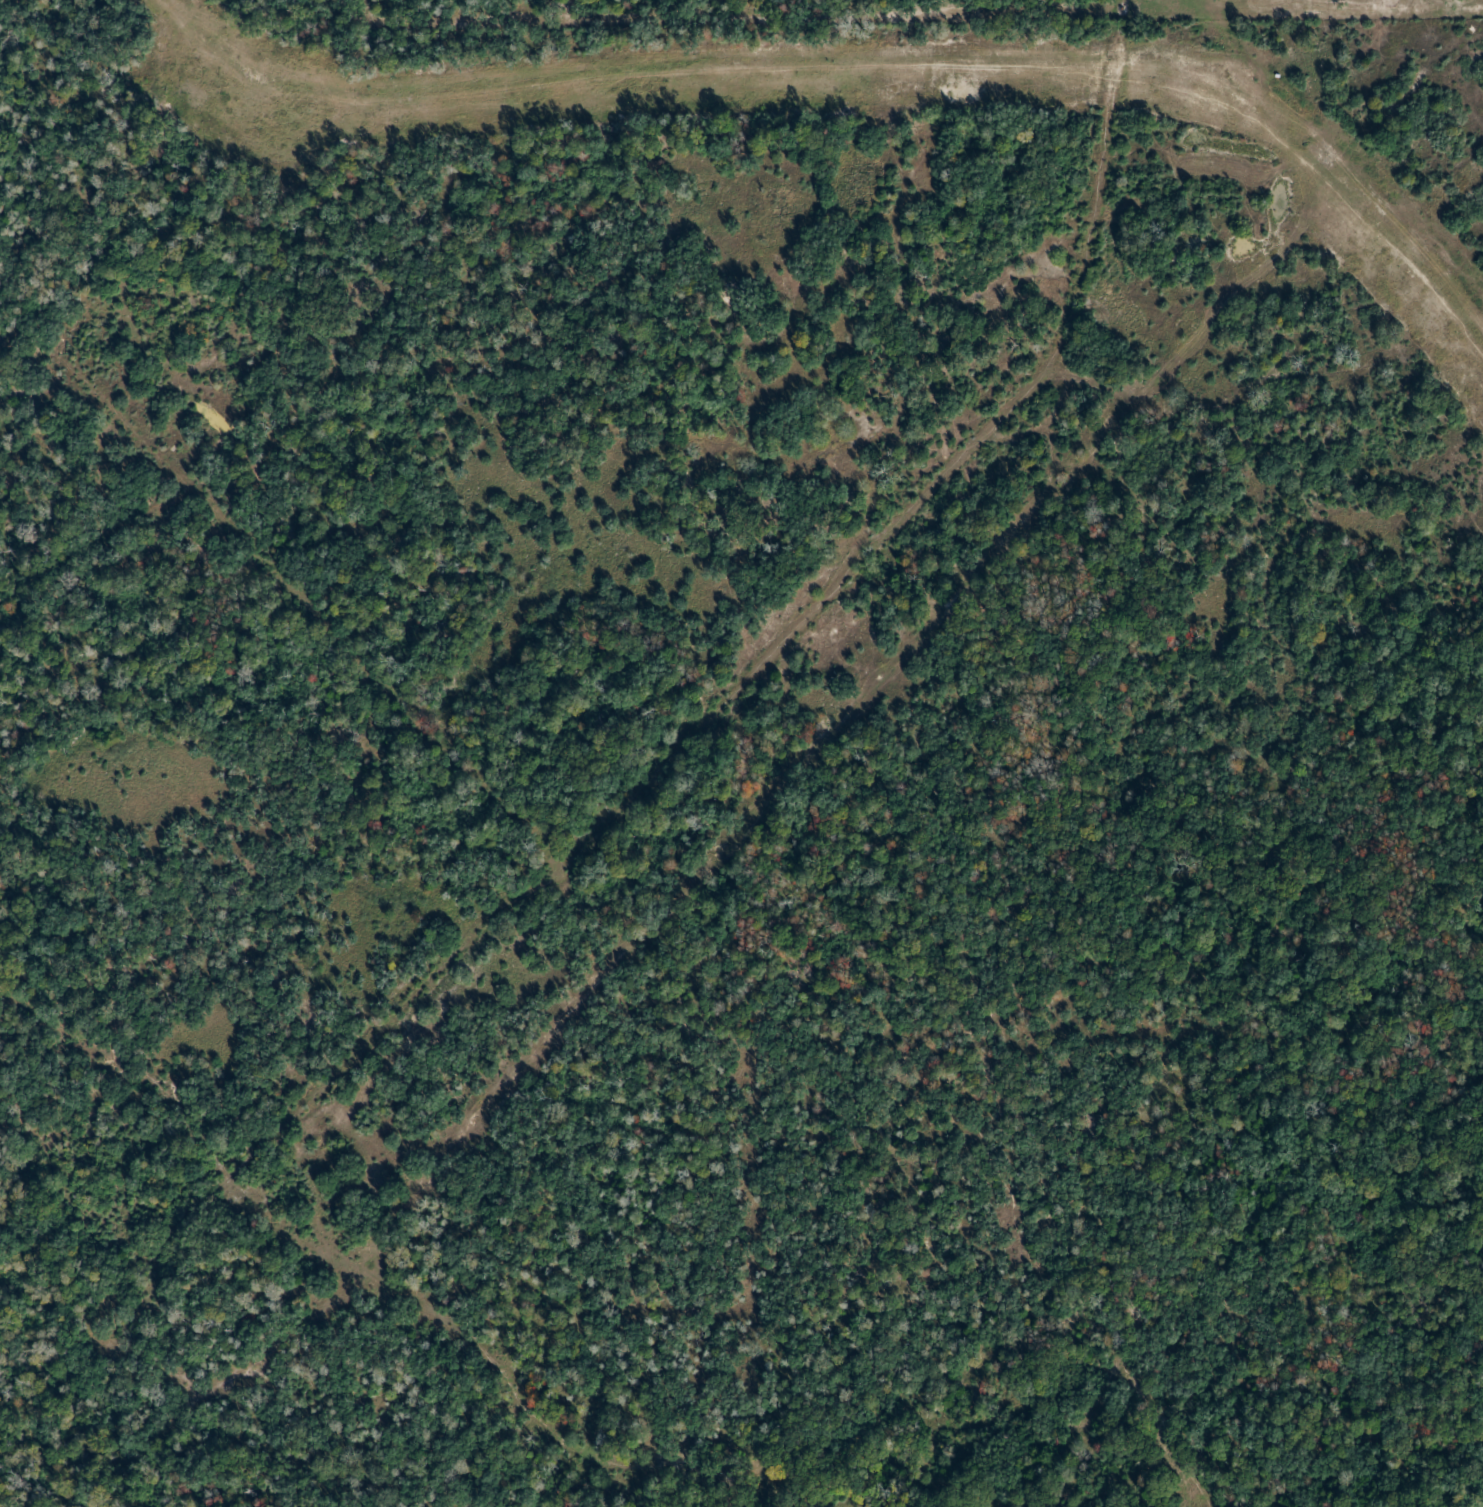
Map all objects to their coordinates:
road: (948, 479)

